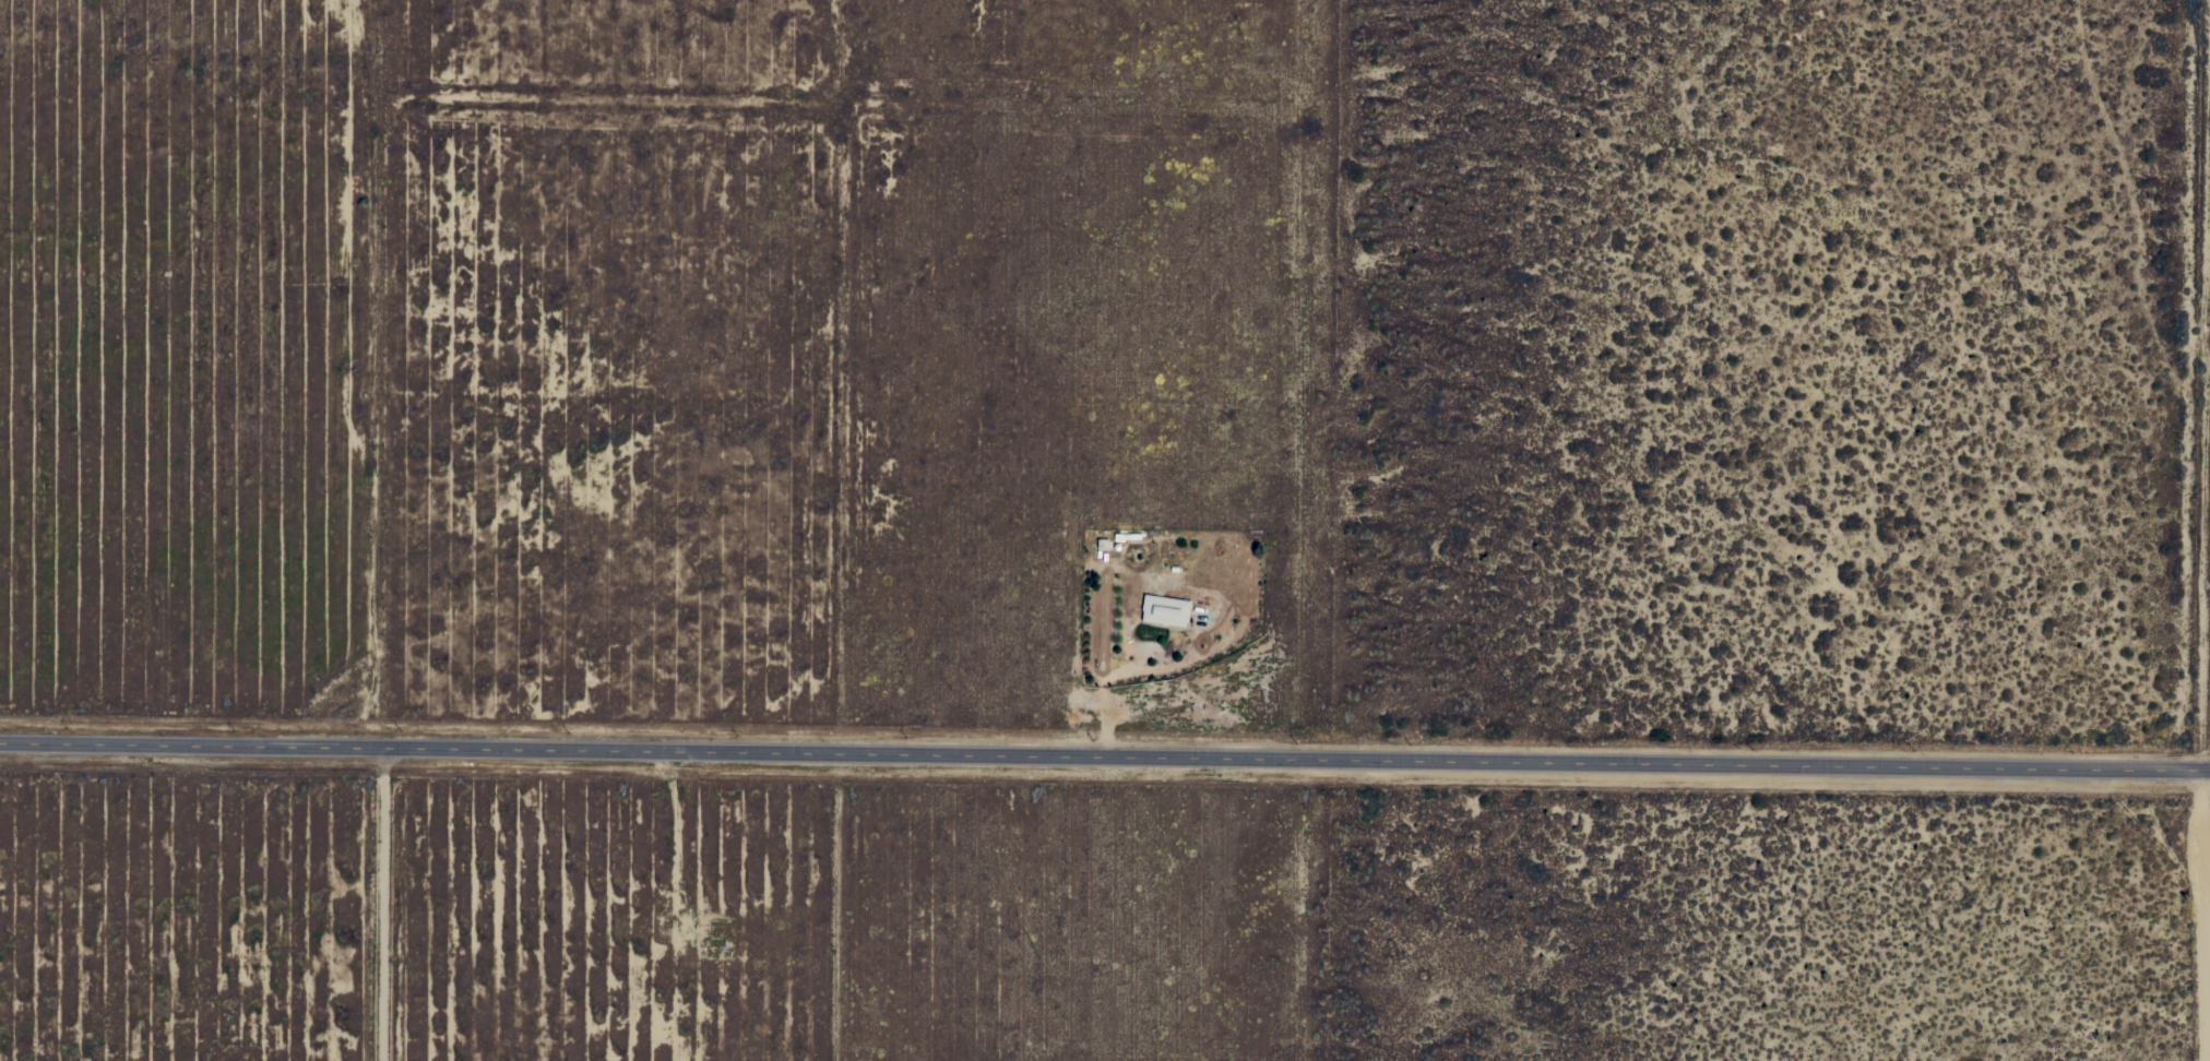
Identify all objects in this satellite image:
road: (1105, 751)
road: (385, 901)

